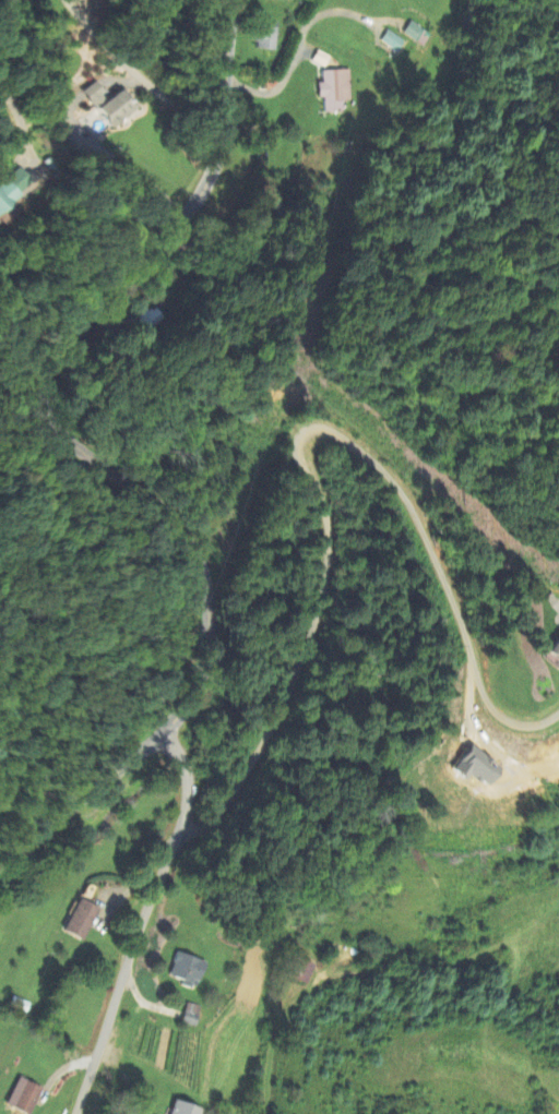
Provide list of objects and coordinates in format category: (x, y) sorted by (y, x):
building: (415, 33)
building: (265, 39)
road: (299, 49)
road: (138, 73)
building: (335, 91)
building: (110, 106)
building: (12, 188)
road: (297, 441)
road: (96, 460)
building: (556, 649)
building: (81, 920)
road: (142, 921)
building: (192, 1016)
building: (23, 1098)
building: (185, 1109)

